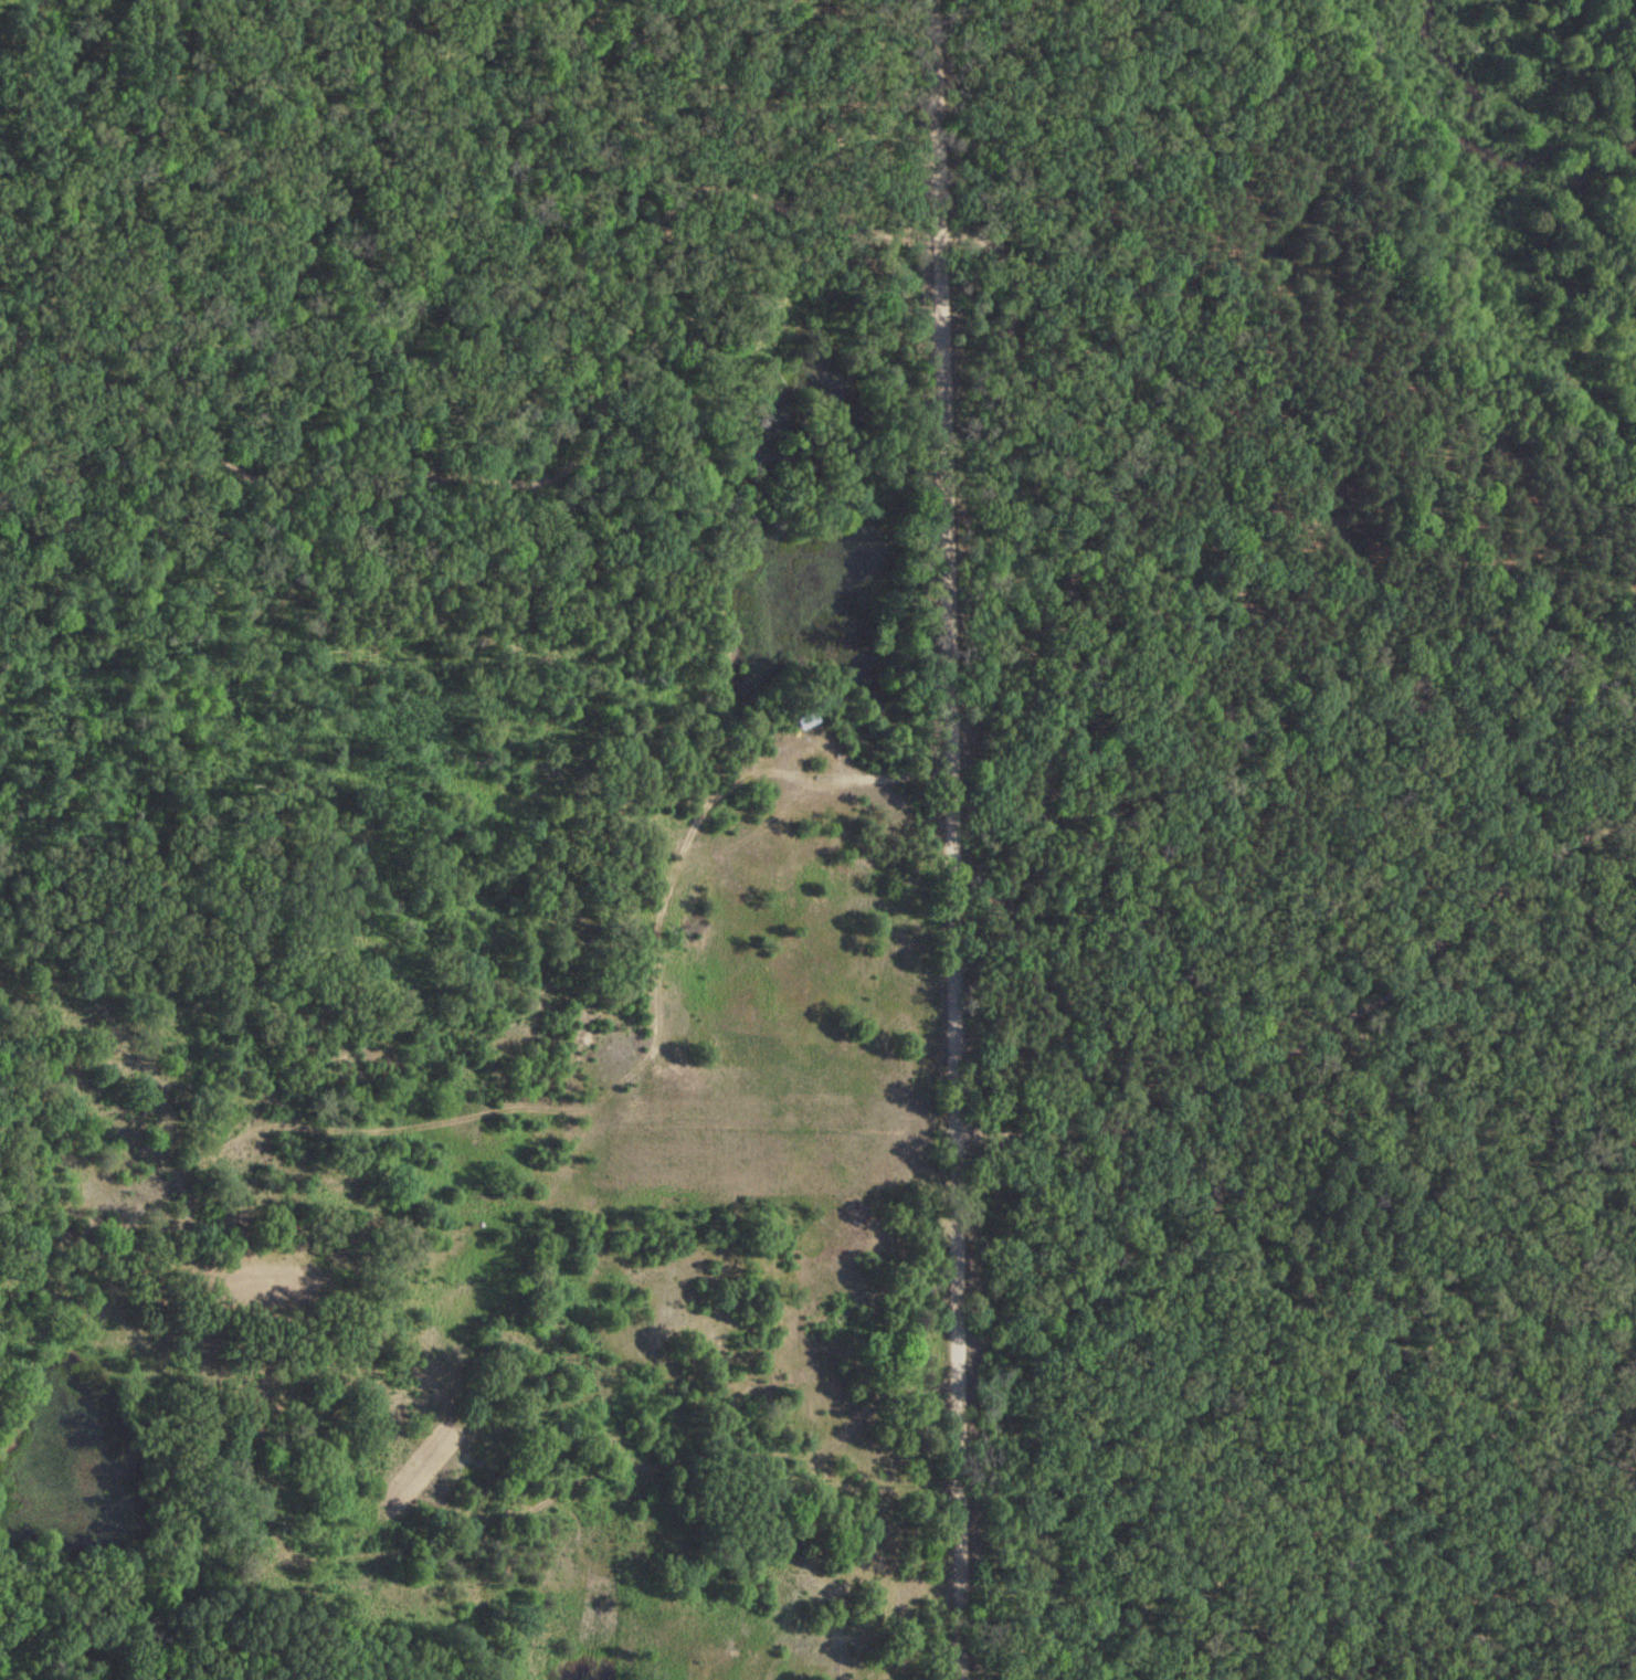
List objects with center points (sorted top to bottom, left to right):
road: (541, 469)
road: (1072, 526)
road: (1180, 667)
building: (804, 707)
road: (948, 839)
road: (1032, 960)
road: (1316, 1023)

